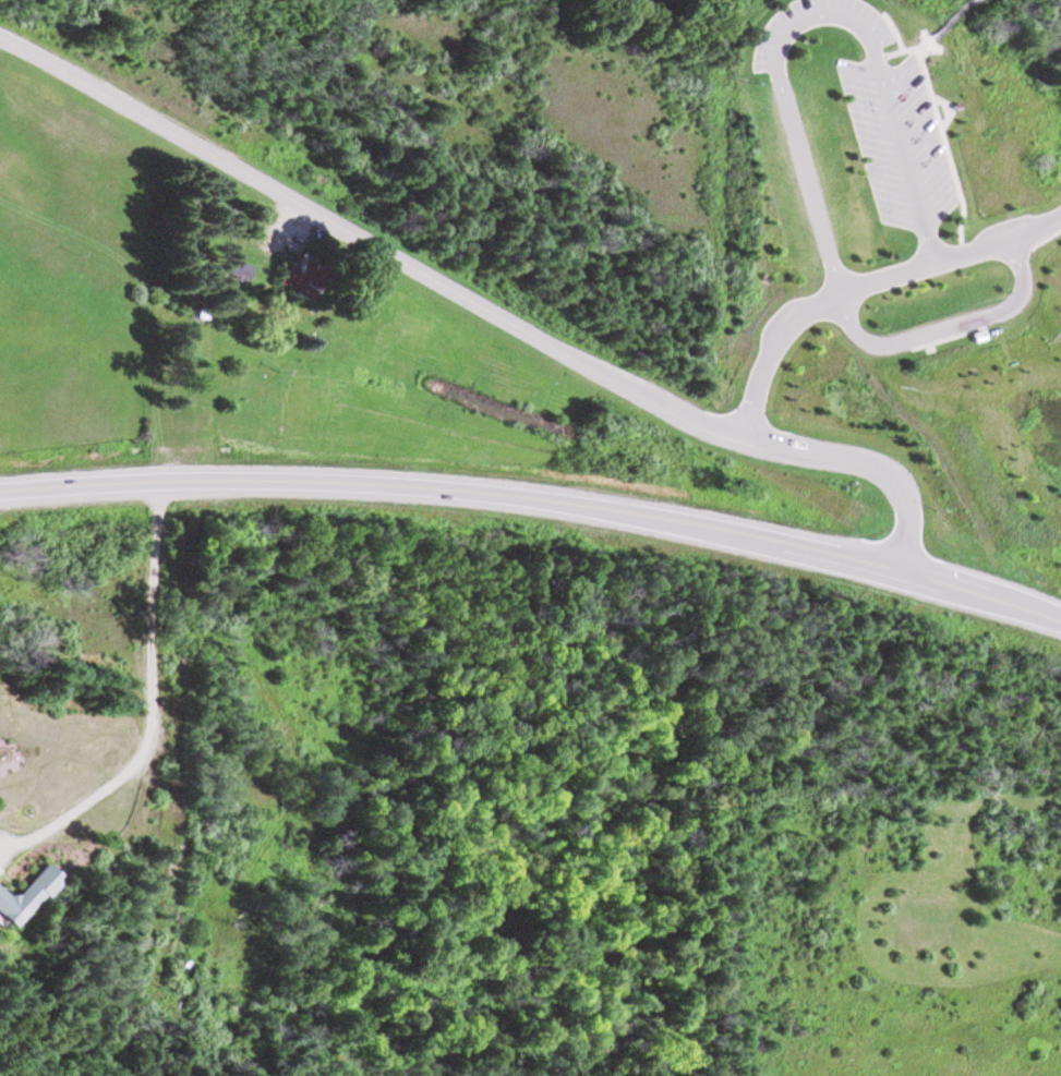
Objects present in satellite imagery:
road: (811, 21)
road: (894, 31)
parking lot: (871, 33)
road: (924, 40)
building: (953, 104)
road: (948, 108)
road: (941, 128)
parking lot: (901, 144)
parking lot: (1010, 229)
road: (863, 287)
road: (475, 305)
parking lot: (787, 322)
road: (944, 331)
building: (976, 334)
road: (950, 336)
road: (536, 503)
road: (157, 712)
building: (28, 897)

